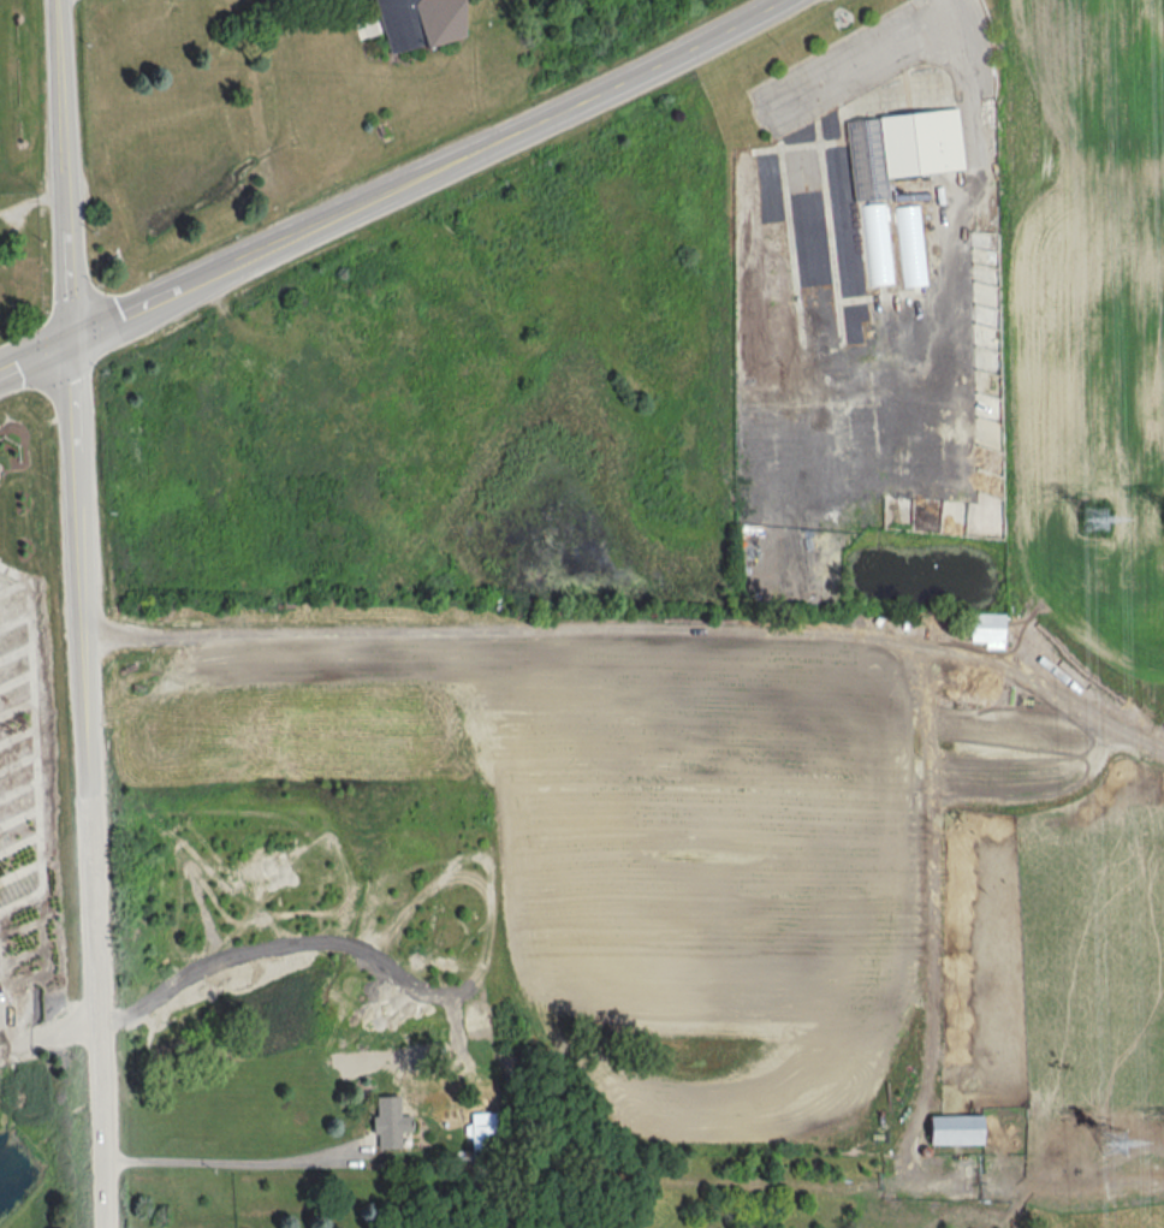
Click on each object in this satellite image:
building: (427, 20)
road: (896, 42)
road: (493, 147)
building: (899, 148)
road: (73, 170)
road: (964, 192)
building: (877, 243)
road: (138, 312)
traffic signals: (82, 339)
road: (41, 358)
power tower: (1093, 520)
building: (986, 628)
road: (641, 631)
road: (100, 783)
building: (388, 1122)
building: (954, 1129)
building: (485, 1141)
power tower: (1113, 1144)
road: (240, 1162)

